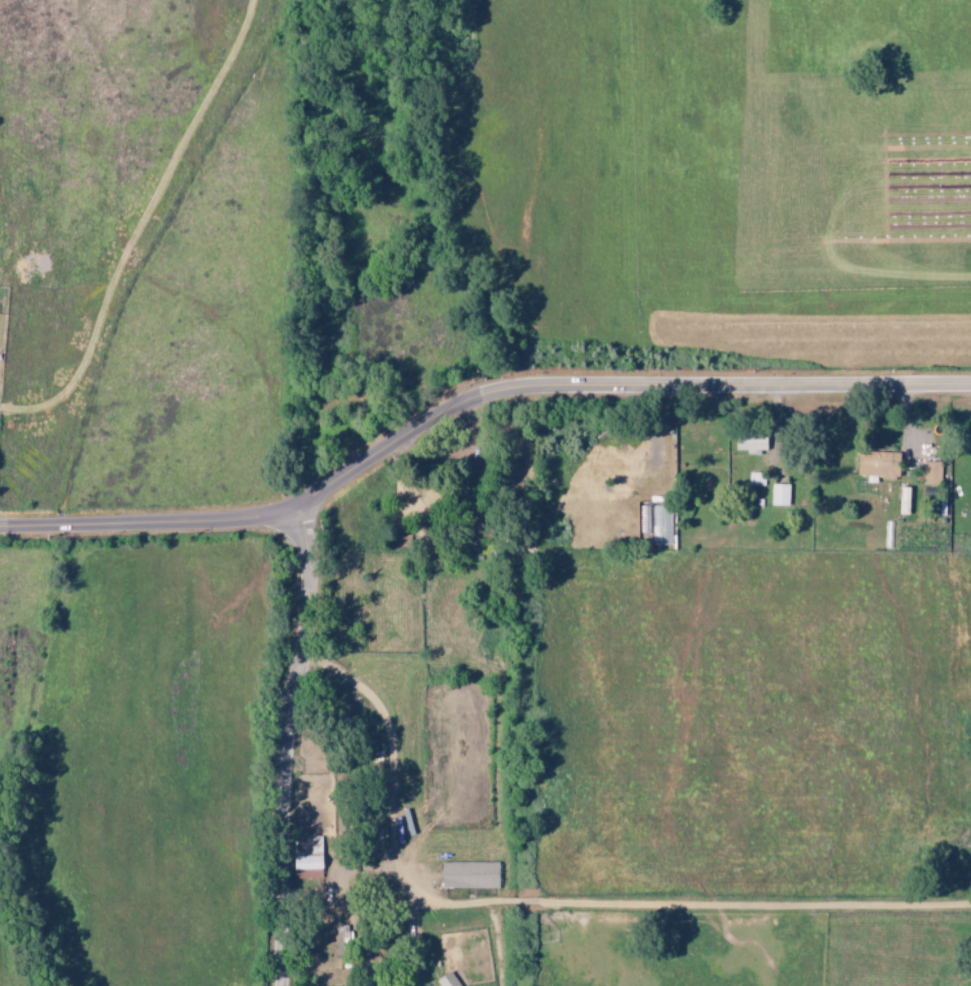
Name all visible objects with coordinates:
road: (615, 389)
building: (752, 441)
building: (879, 464)
building: (932, 473)
building: (780, 494)
building: (904, 500)
road: (147, 525)
road: (393, 735)
road: (290, 748)
building: (311, 855)
building: (470, 875)
road: (357, 914)
building: (343, 934)
building: (448, 980)

